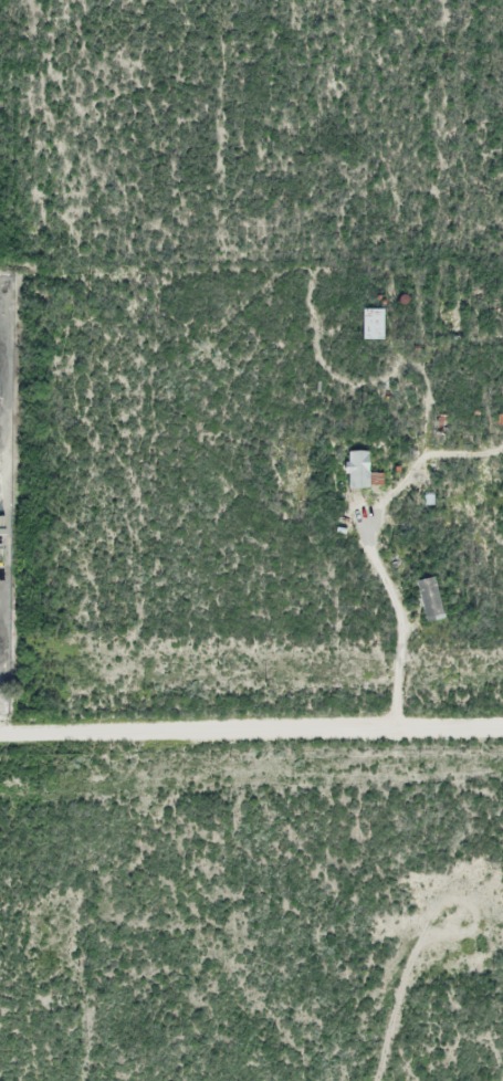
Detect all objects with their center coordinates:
building: (368, 325)
building: (355, 471)
building: (427, 599)
power tower: (216, 663)
road: (251, 731)
power tower: (419, 767)
power tower: (36, 790)

